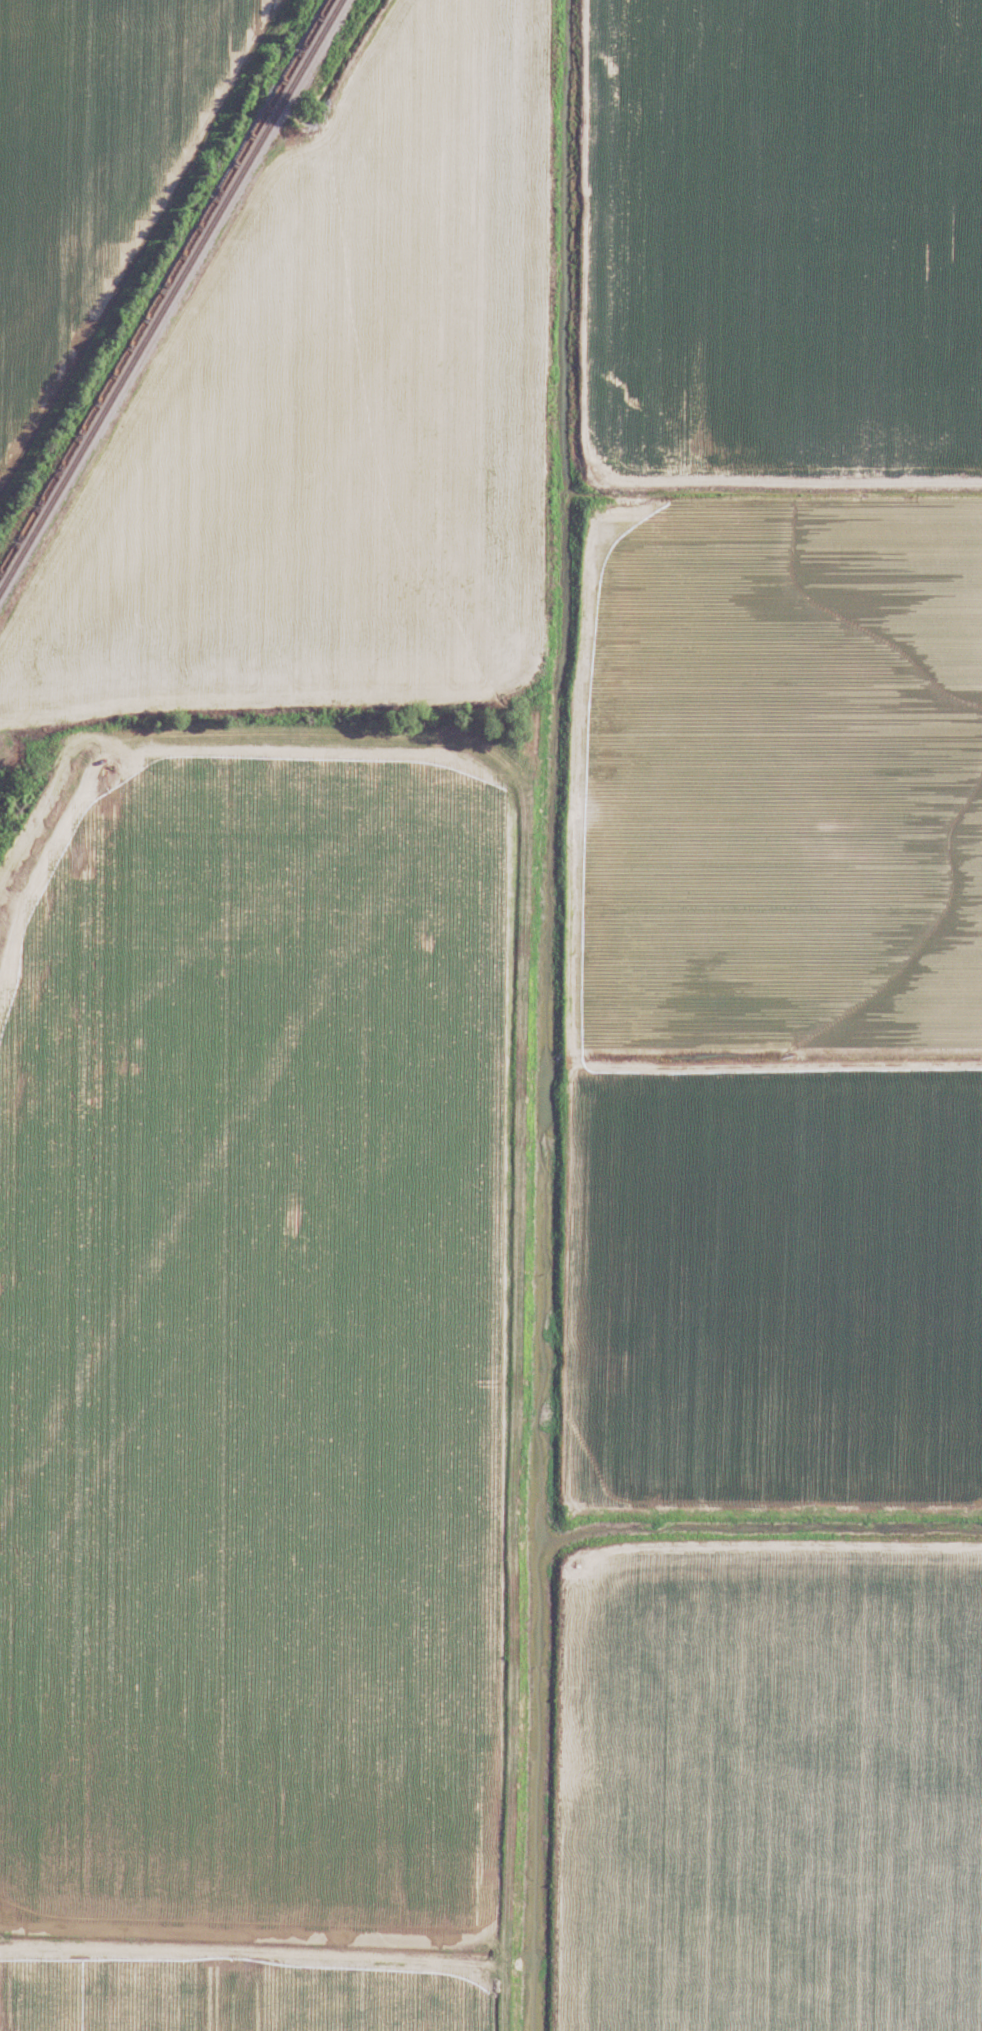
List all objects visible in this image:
railway: (164, 284)
railway: (170, 294)

